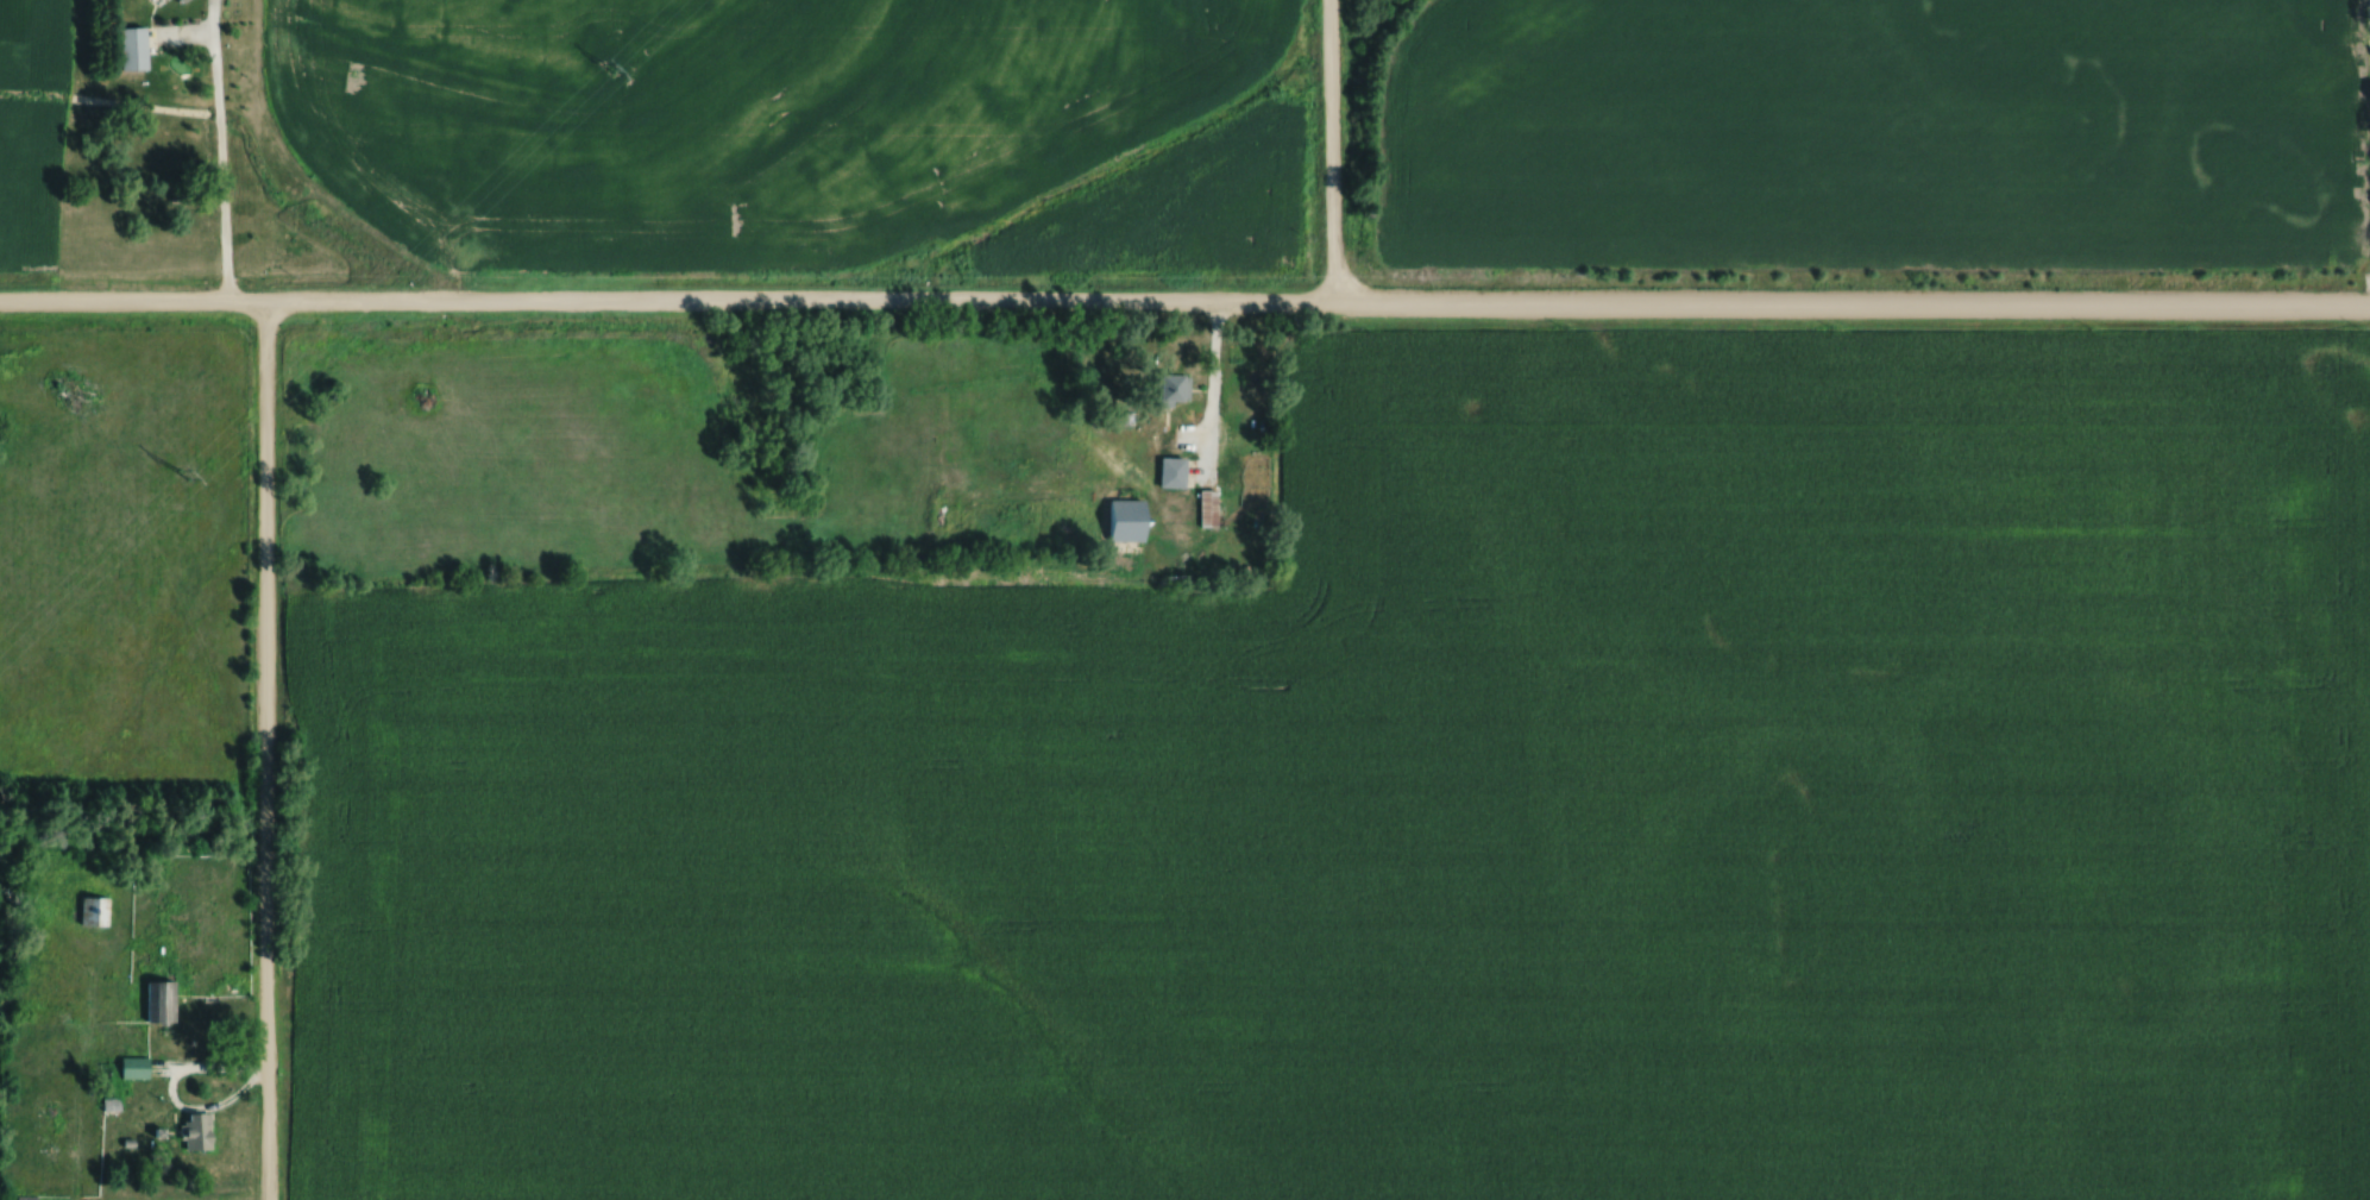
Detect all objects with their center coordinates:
building: (189, 0)
building: (140, 46)
power tower: (606, 64)
road: (1333, 151)
road: (221, 168)
road: (1184, 302)
road: (1207, 387)
building: (1168, 390)
power tower: (183, 472)
building: (1168, 472)
building: (1205, 509)
building: (1121, 521)
road: (268, 750)
building: (99, 909)
building: (163, 999)
building: (138, 1066)
road: (172, 1086)
building: (206, 1123)
building: (29, 1196)

